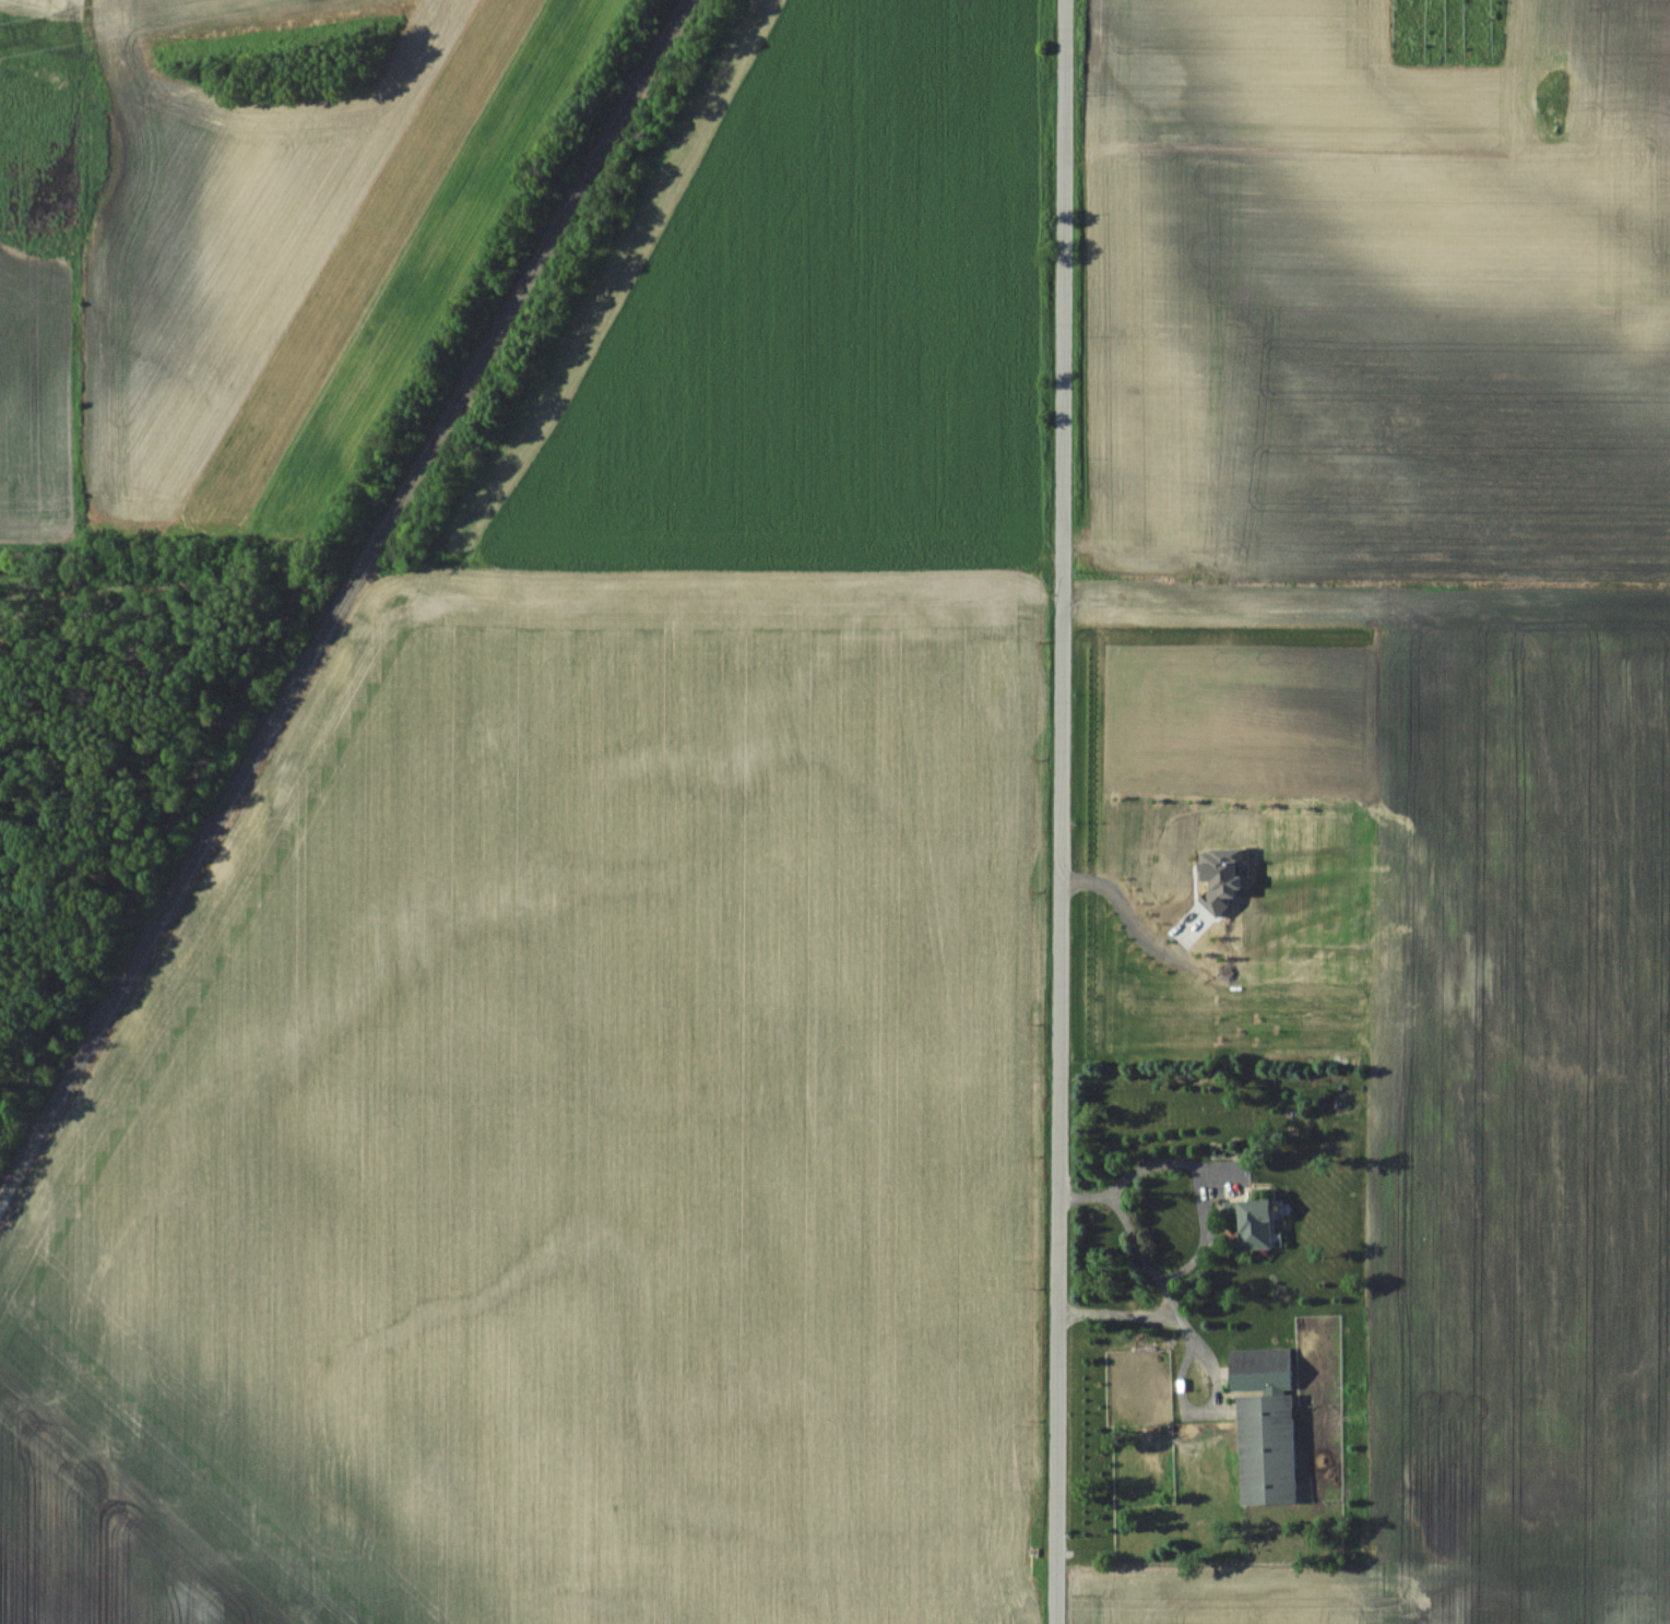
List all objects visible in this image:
railway: (341, 596)
road: (1056, 811)
road: (1163, 1162)
building: (1252, 1222)
road: (1159, 1276)
road: (1217, 1398)
building: (1265, 1426)

